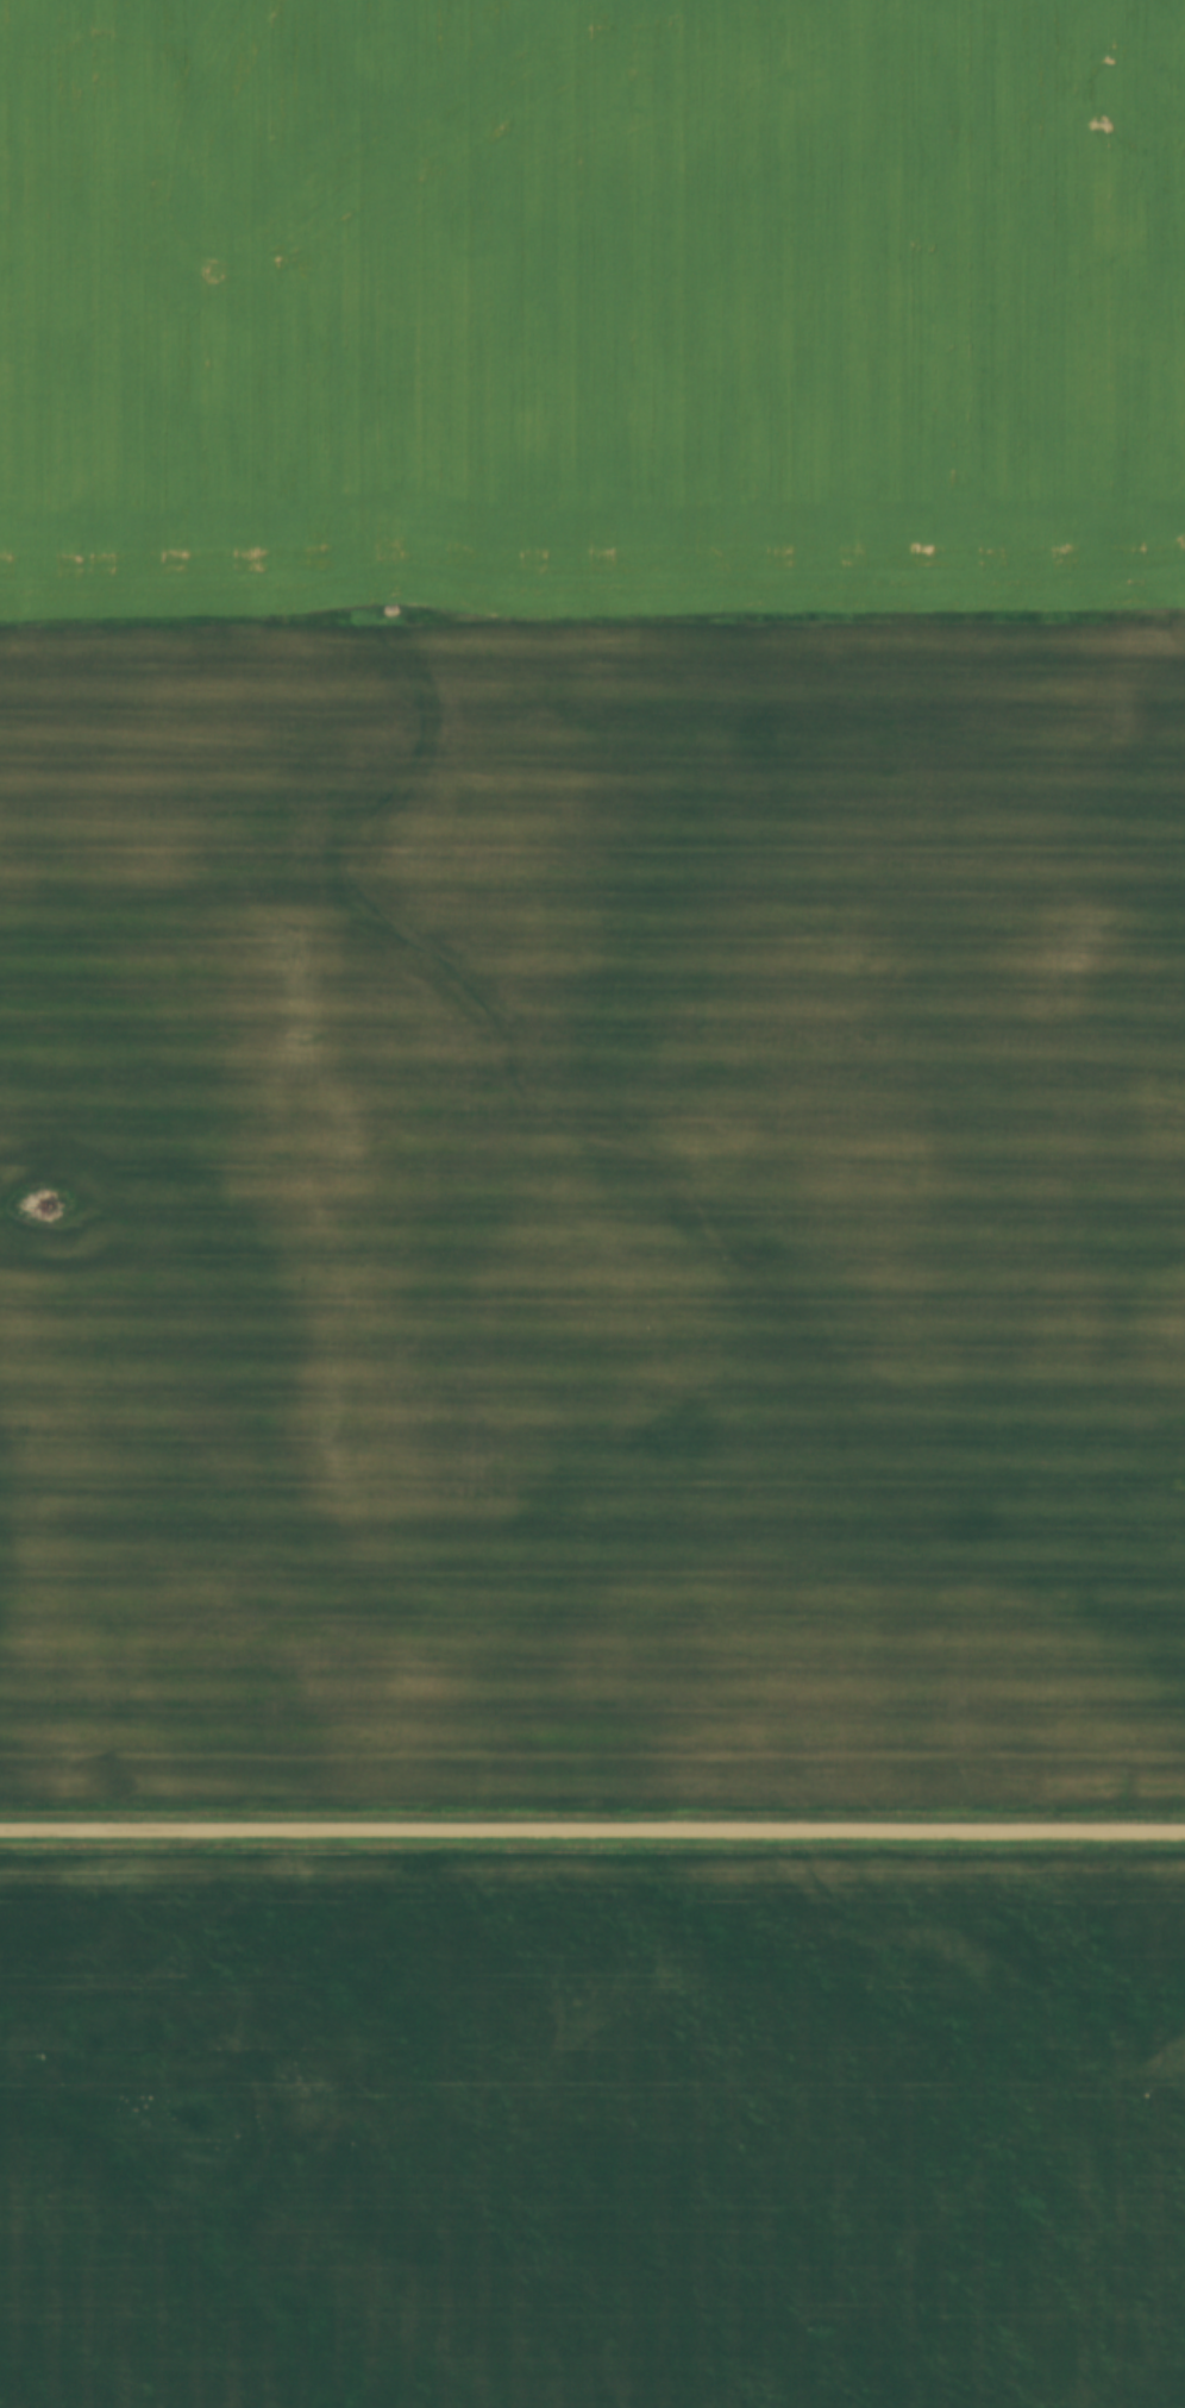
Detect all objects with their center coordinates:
road: (592, 1831)

